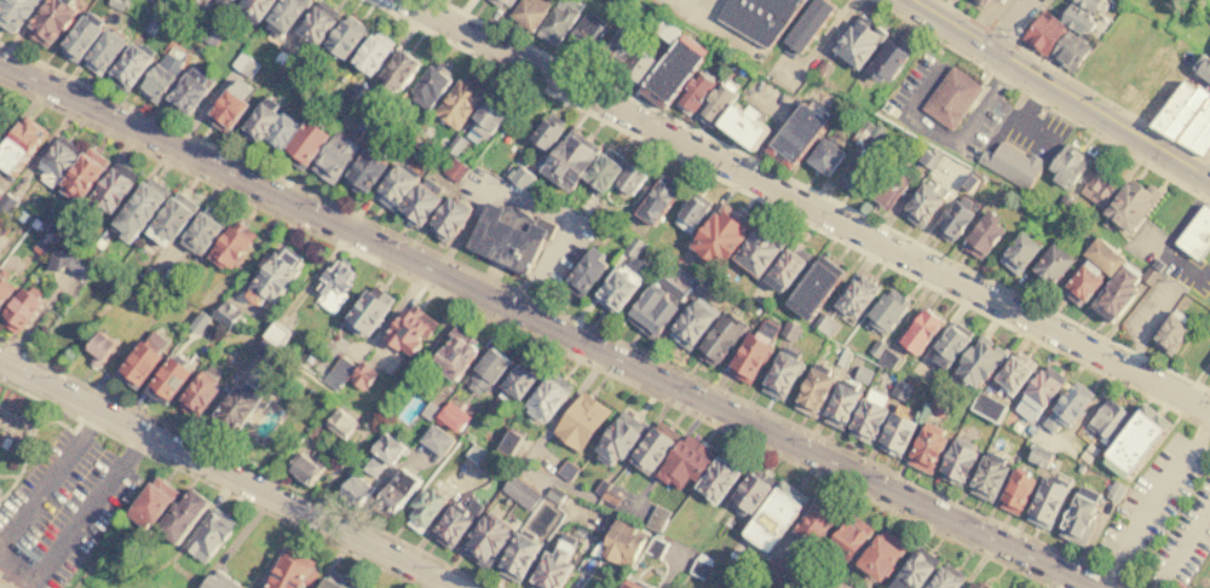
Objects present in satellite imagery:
building: (500, 0)
building: (981, 1)
building: (221, 2)
building: (624, 2)
building: (1088, 4)
building: (126, 5)
road: (697, 5)
building: (190, 6)
building: (254, 7)
building: (202, 8)
building: (634, 10)
building: (13, 12)
building: (529, 12)
building: (283, 13)
road: (1008, 15)
building: (757, 17)
building: (1072, 17)
building: (48, 21)
building: (151, 21)
building: (558, 21)
building: (316, 23)
road: (715, 23)
building: (807, 24)
road: (978, 25)
building: (667, 29)
building: (587, 33)
building: (1043, 34)
building: (80, 35)
building: (211, 35)
building: (344, 35)
road: (1001, 38)
building: (858, 39)
road: (989, 39)
road: (820, 44)
building: (104, 48)
building: (616, 48)
building: (1070, 51)
building: (371, 52)
building: (277, 56)
building: (888, 59)
building: (243, 64)
building: (128, 65)
building: (636, 67)
building: (397, 68)
building: (1203, 68)
building: (673, 71)
building: (161, 75)
building: (430, 83)
building: (1157, 83)
road: (1089, 91)
building: (355, 92)
road: (1054, 92)
building: (186, 93)
building: (693, 93)
building: (952, 98)
building: (457, 100)
road: (1042, 100)
building: (227, 103)
building: (714, 105)
building: (1172, 105)
building: (836, 106)
building: (404, 108)
building: (489, 113)
building: (1187, 113)
building: (261, 116)
road: (1021, 121)
building: (367, 125)
building: (747, 126)
building: (280, 128)
road: (967, 128)
building: (864, 129)
building: (1198, 129)
building: (797, 132)
building: (427, 133)
building: (546, 133)
building: (304, 144)
building: (455, 144)
building: (21, 145)
building: (333, 156)
building: (571, 156)
building: (824, 156)
building: (53, 157)
building: (928, 158)
road: (1206, 162)
building: (1012, 165)
building: (365, 167)
building: (1066, 167)
building: (454, 169)
building: (604, 169)
building: (81, 173)
road: (1206, 173)
building: (860, 174)
building: (520, 177)
building: (629, 177)
building: (969, 183)
building: (396, 184)
building: (1101, 186)
building: (111, 188)
building: (888, 188)
building: (0, 192)
road: (824, 196)
building: (657, 198)
building: (420, 202)
building: (923, 202)
building: (7, 203)
building: (1064, 204)
road: (803, 206)
building: (1129, 206)
road: (531, 208)
building: (136, 211)
building: (691, 213)
road: (788, 214)
building: (19, 217)
building: (168, 218)
building: (446, 218)
building: (951, 220)
building: (4, 221)
building: (1087, 221)
building: (54, 227)
building: (201, 231)
building: (983, 234)
building: (509, 236)
building: (1195, 236)
building: (719, 237)
building: (44, 243)
building: (231, 246)
building: (634, 247)
building: (757, 249)
building: (1019, 253)
building: (1104, 256)
building: (64, 261)
building: (1051, 264)
building: (786, 266)
building: (586, 272)
road: (1188, 272)
building: (271, 276)
building: (1149, 276)
building: (675, 281)
building: (1082, 282)
building: (333, 286)
building: (813, 286)
building: (617, 287)
building: (5, 289)
building: (1116, 292)
building: (855, 300)
building: (367, 310)
building: (887, 310)
building: (19, 312)
building: (650, 312)
building: (225, 313)
road: (565, 316)
building: (693, 321)
road: (547, 324)
building: (825, 324)
building: (409, 330)
building: (921, 330)
building: (789, 332)
building: (1170, 333)
road: (529, 334)
building: (275, 335)
building: (719, 340)
building: (950, 346)
building: (98, 348)
building: (877, 348)
building: (265, 351)
building: (453, 357)
building: (748, 358)
building: (843, 358)
building: (889, 361)
building: (978, 362)
building: (137, 365)
building: (341, 368)
building: (1209, 368)
building: (1014, 370)
building: (485, 371)
building: (863, 374)
building: (361, 376)
building: (782, 376)
building: (518, 379)
building: (165, 380)
building: (812, 392)
building: (900, 392)
building: (1039, 393)
building: (197, 396)
building: (547, 397)
building: (841, 403)
building: (1071, 403)
building: (938, 405)
building: (236, 407)
building: (987, 407)
building: (428, 410)
building: (868, 416)
building: (450, 419)
building: (1106, 419)
building: (581, 422)
building: (340, 423)
building: (318, 434)
building: (895, 434)
building: (620, 437)
road: (28, 438)
building: (436, 440)
building: (508, 442)
building: (1135, 442)
building: (927, 446)
building: (386, 448)
building: (651, 450)
building: (476, 454)
building: (1039, 455)
building: (957, 461)
building: (685, 462)
road: (247, 463)
building: (305, 467)
building: (374, 468)
building: (566, 471)
road: (7, 475)
building: (989, 475)
road: (226, 477)
building: (716, 480)
road: (50, 482)
road: (209, 483)
building: (600, 488)
building: (1114, 490)
building: (353, 491)
building: (520, 492)
building: (748, 492)
building: (1014, 492)
building: (394, 494)
building: (555, 495)
building: (611, 497)
building: (1048, 497)
road: (1154, 501)
building: (149, 502)
building: (422, 508)
parking lot: (60, 511)
building: (180, 513)
building: (773, 515)
building: (1079, 515)
parking lot: (1164, 517)
building: (454, 523)
road: (74, 524)
building: (813, 524)
building: (209, 535)
building: (847, 536)
building: (485, 540)
building: (621, 542)
building: (656, 547)
road: (1181, 549)
building: (878, 557)
building: (517, 558)
building: (552, 567)
building: (699, 569)
building: (292, 571)
building: (773, 571)
building: (911, 572)
building: (945, 577)
building: (218, 580)
building: (338, 581)
road: (430, 582)
building: (737, 583)
building: (978, 583)
building: (5, 584)
building: (626, 586)
building: (367, 587)
building: (826, 587)

